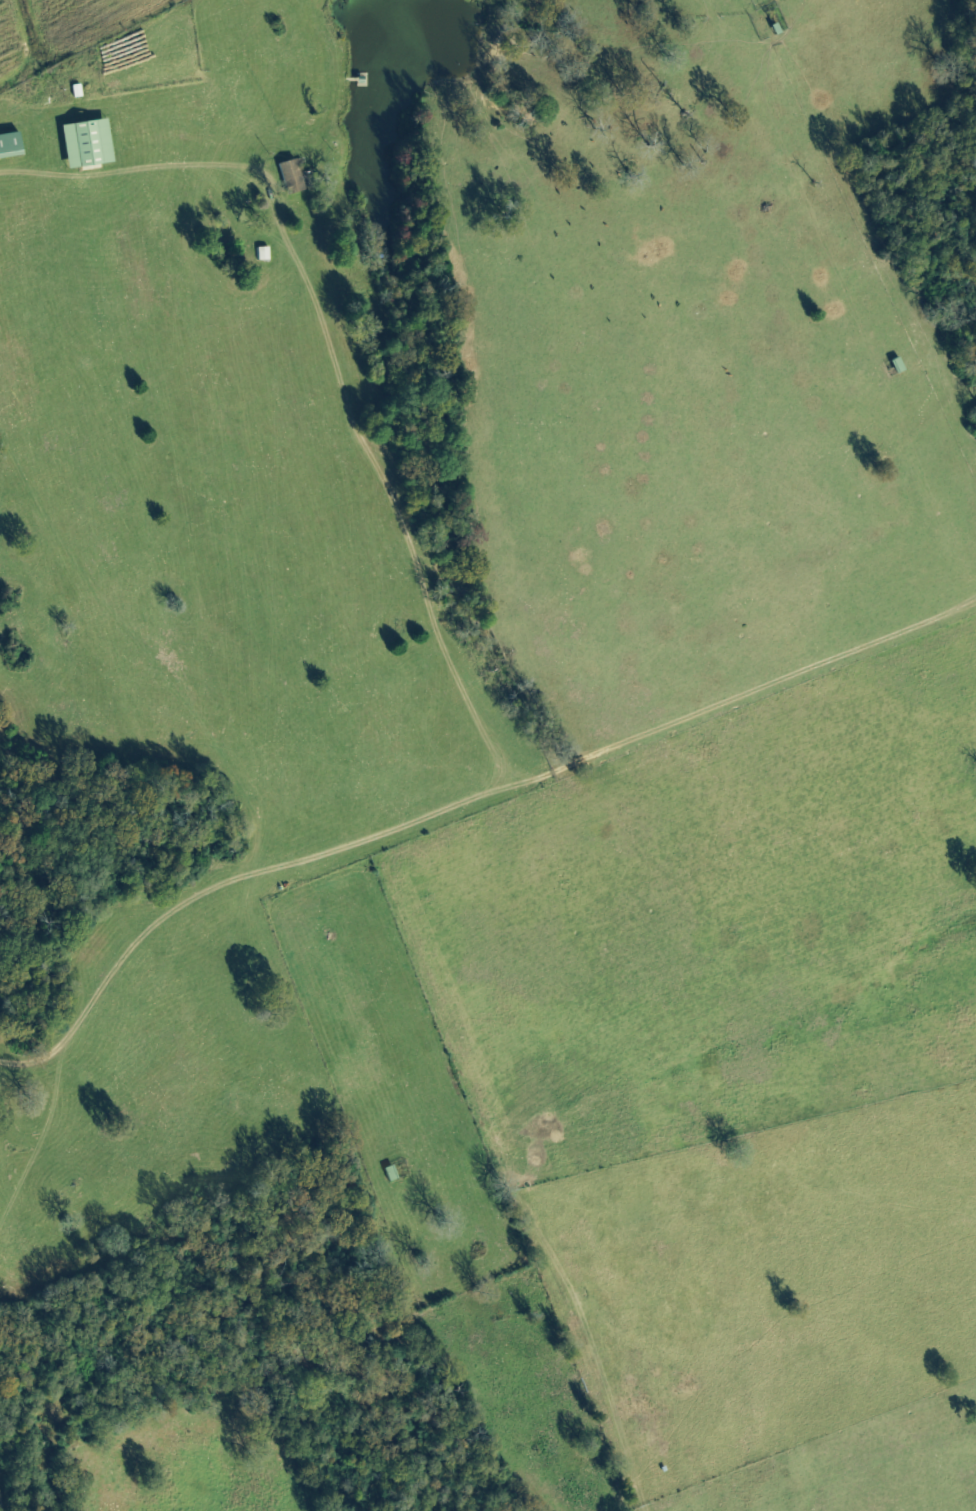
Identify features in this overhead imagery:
building: (92, 145)
building: (294, 177)
road: (527, 763)

